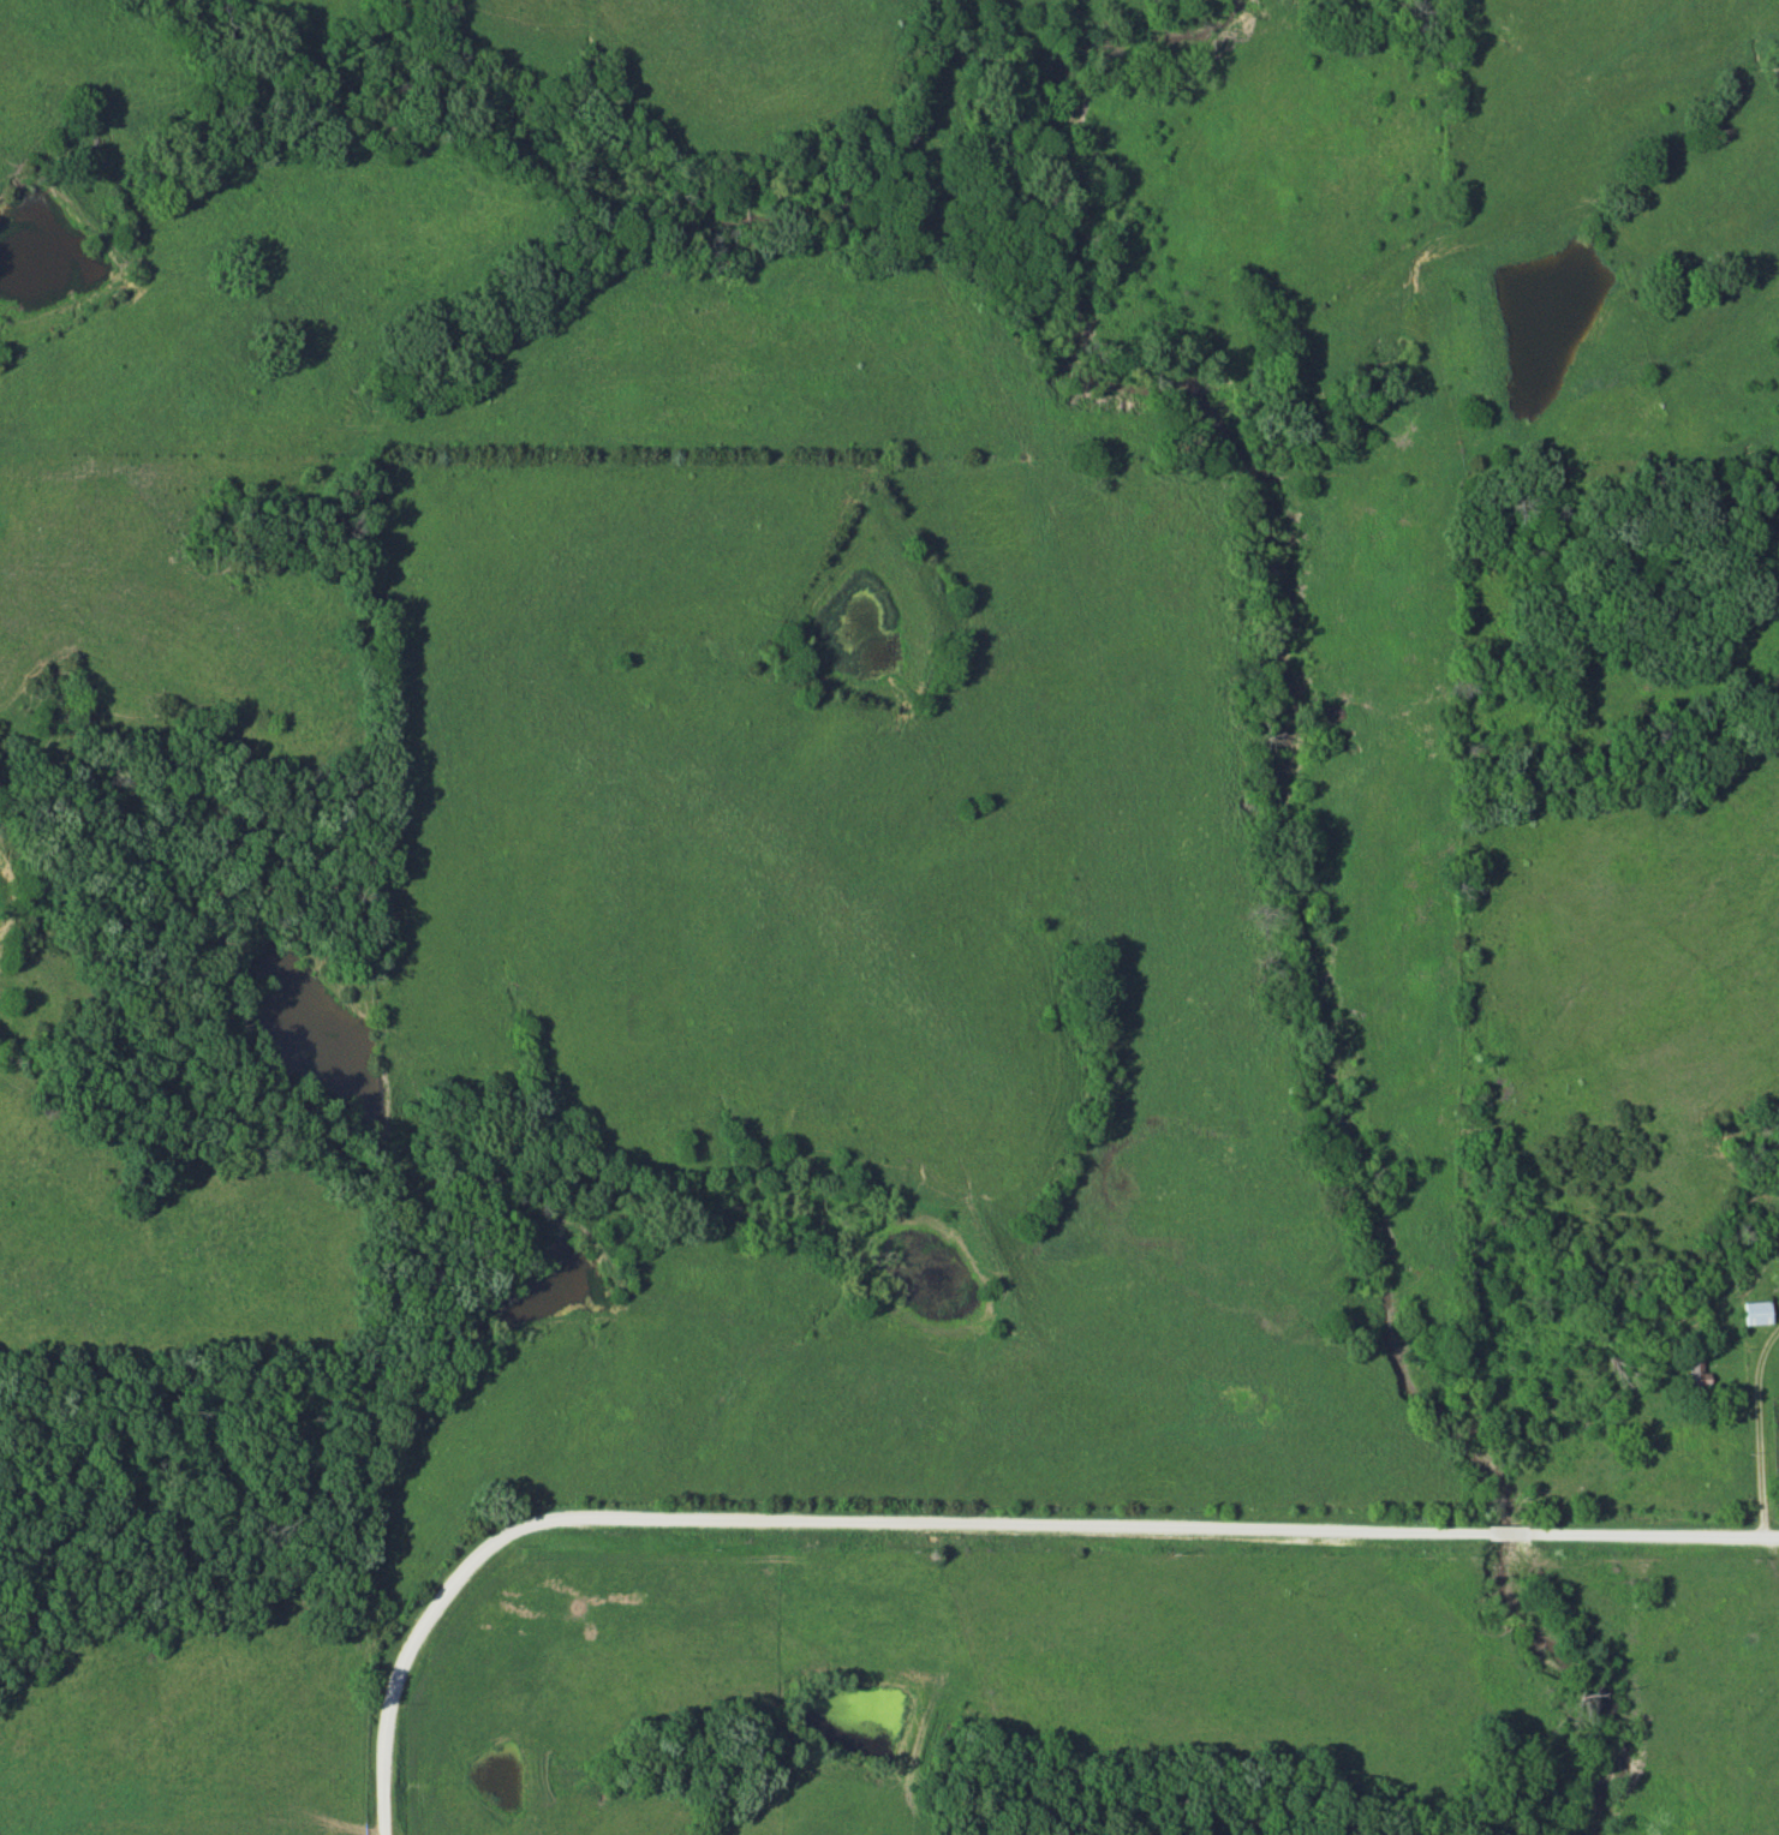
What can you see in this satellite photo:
building: (1759, 1311)
road: (973, 1525)

